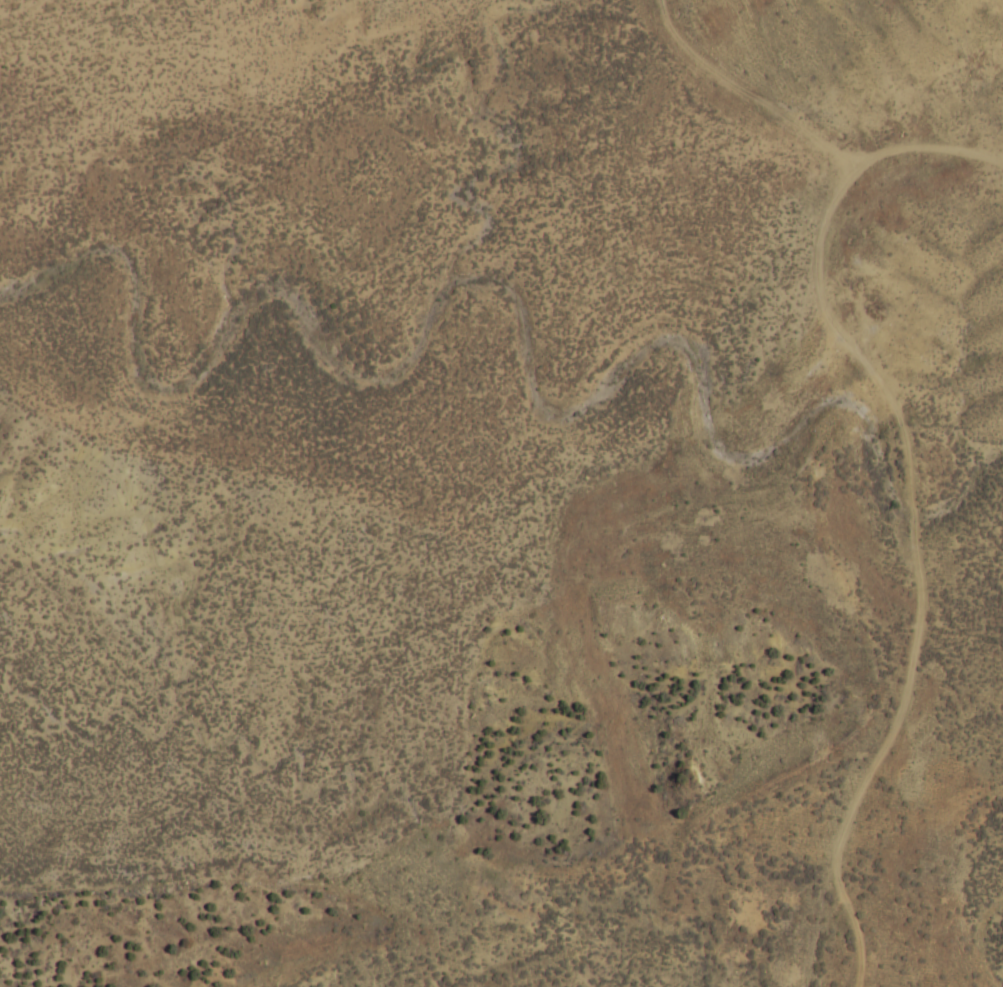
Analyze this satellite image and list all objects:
road: (461, 473)
road: (832, 966)

